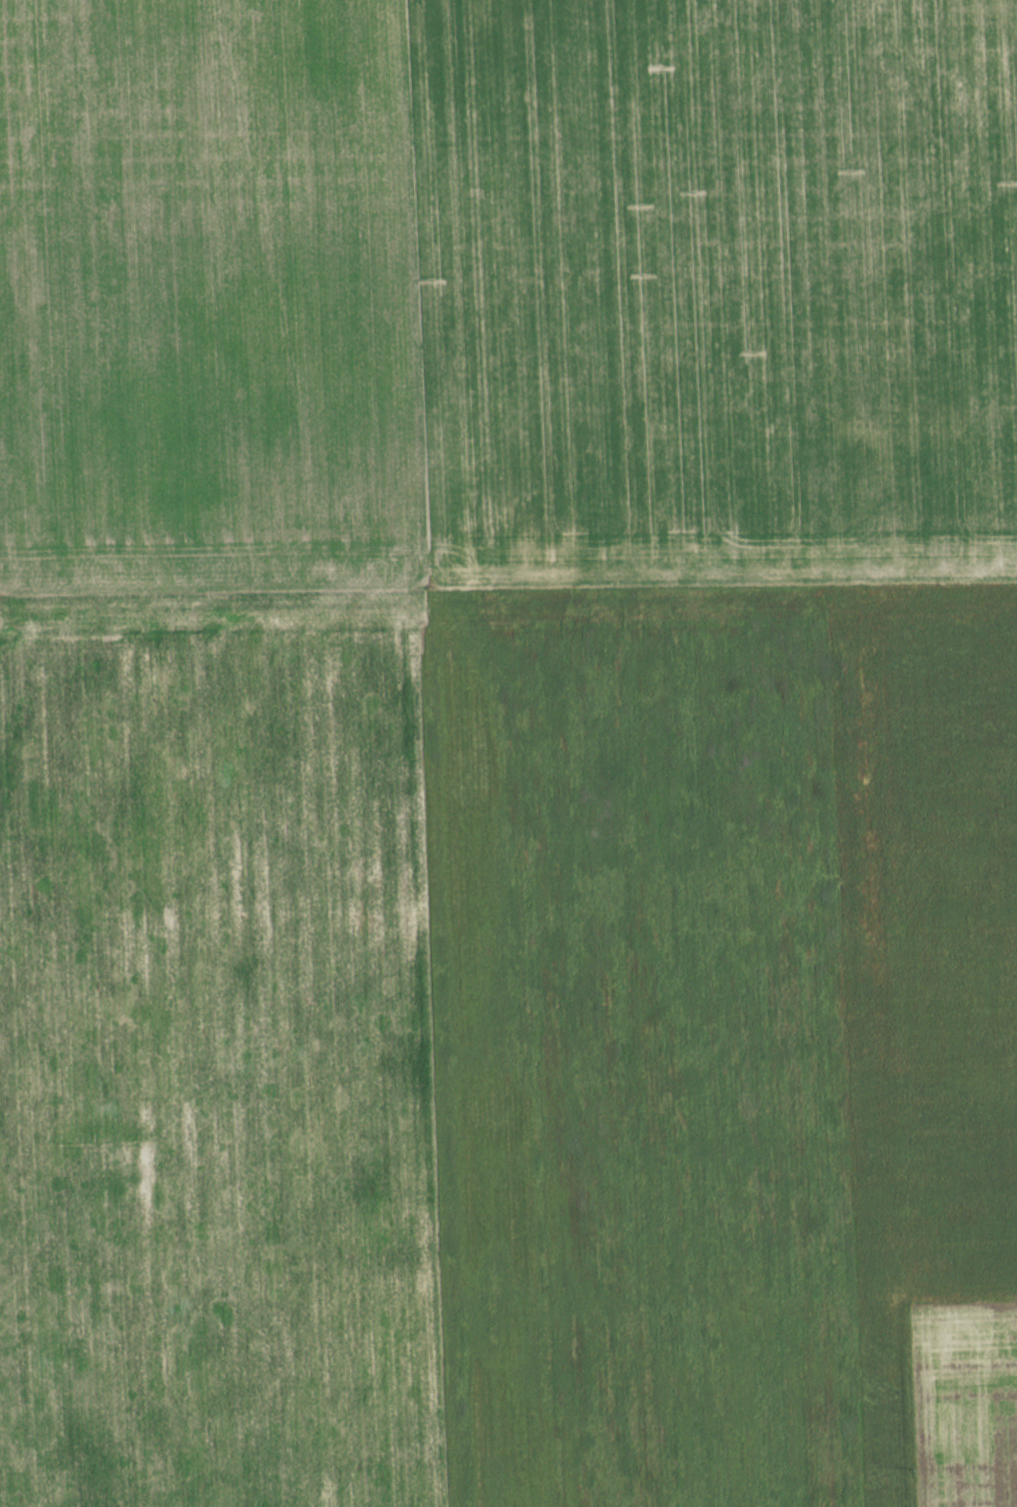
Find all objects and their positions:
crop: (507, 292)
crop: (509, 1045)

